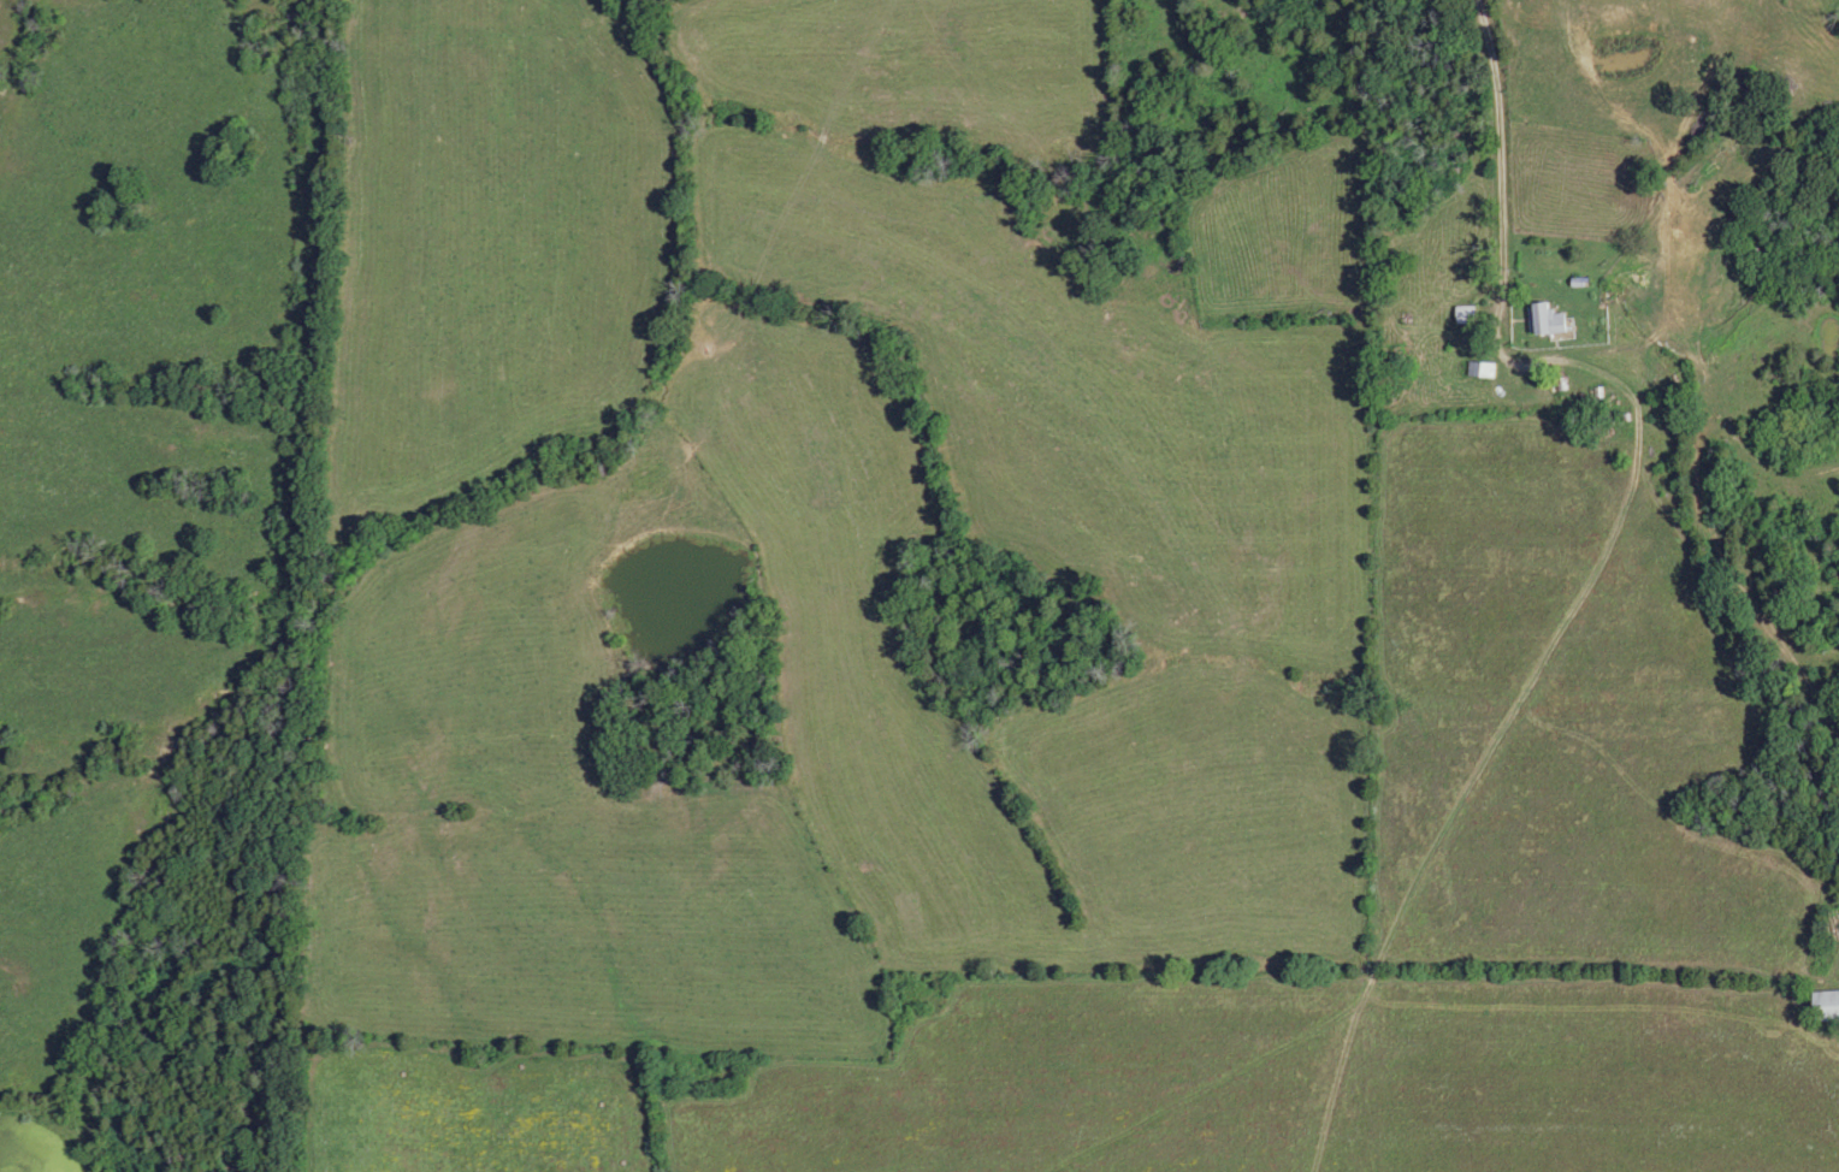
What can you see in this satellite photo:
road: (1509, 116)
building: (1691, 306)
building: (1543, 319)
building: (1483, 371)
building: (1821, 1005)

